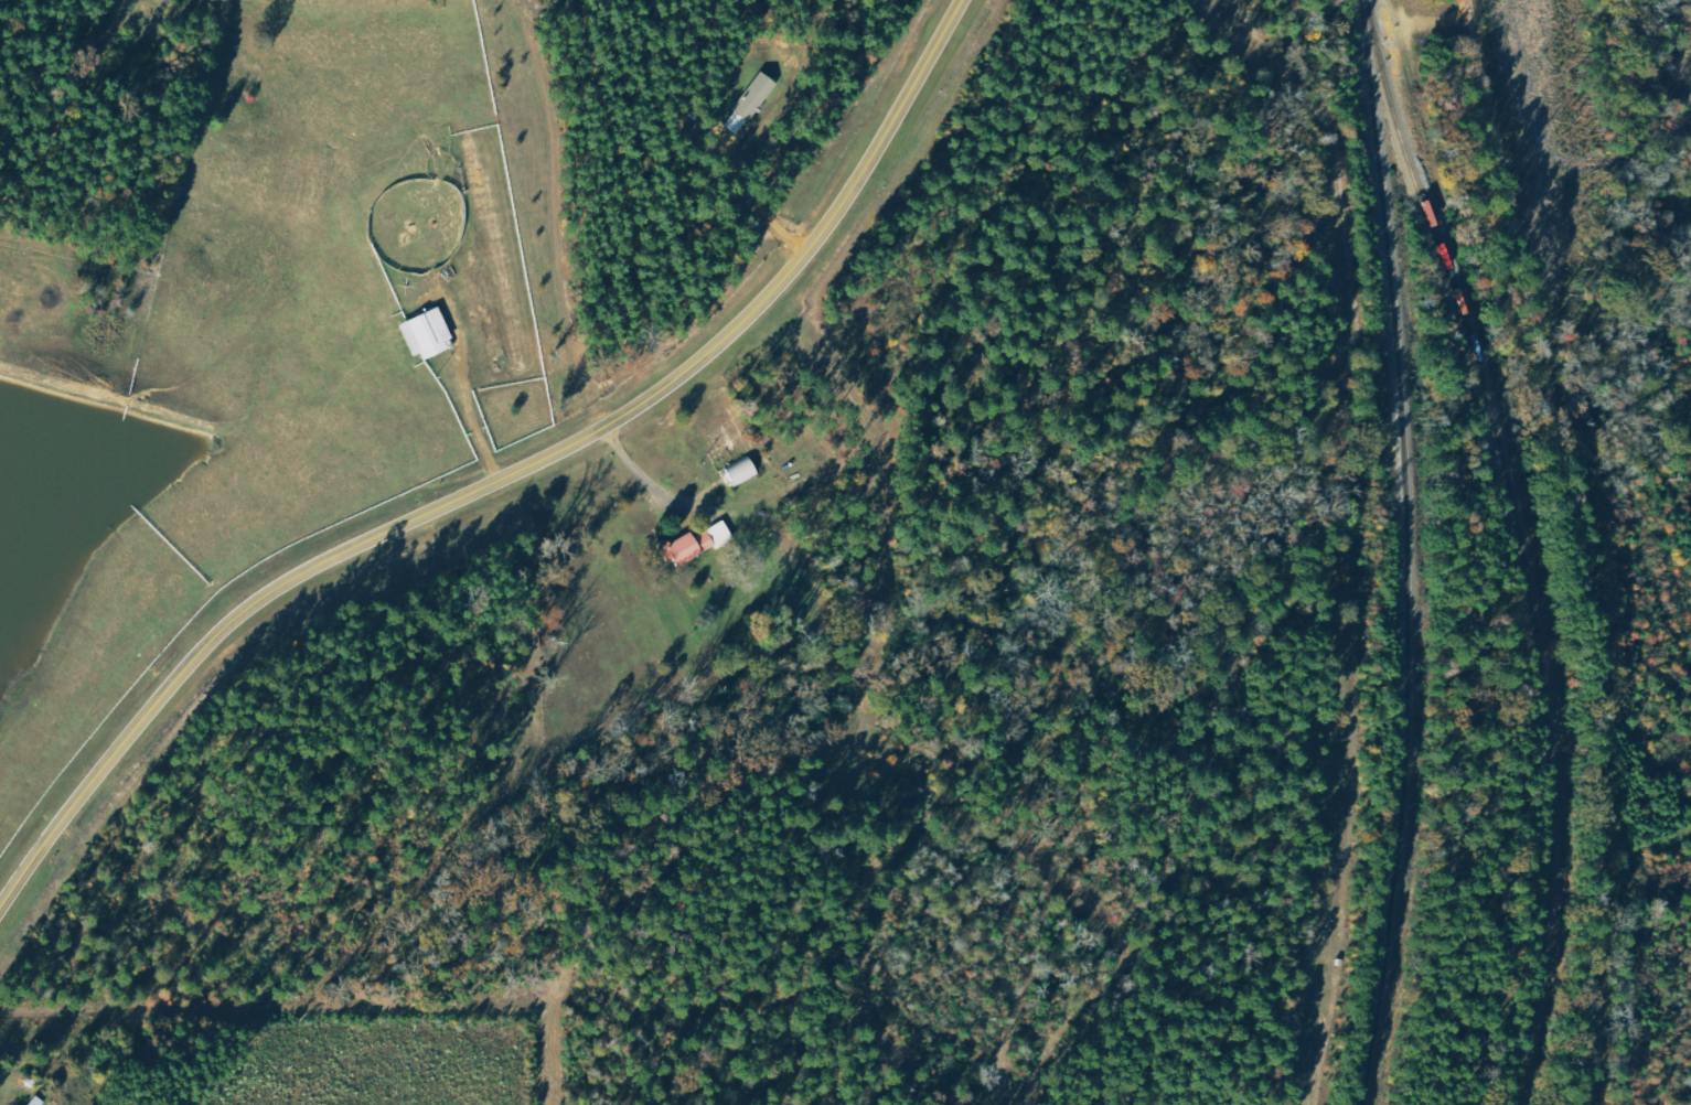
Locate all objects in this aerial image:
building: (752, 103)
building: (430, 334)
road: (503, 480)
road: (1572, 540)
railway: (1524, 543)
building: (698, 544)
railway: (1411, 552)
building: (40, 1102)

